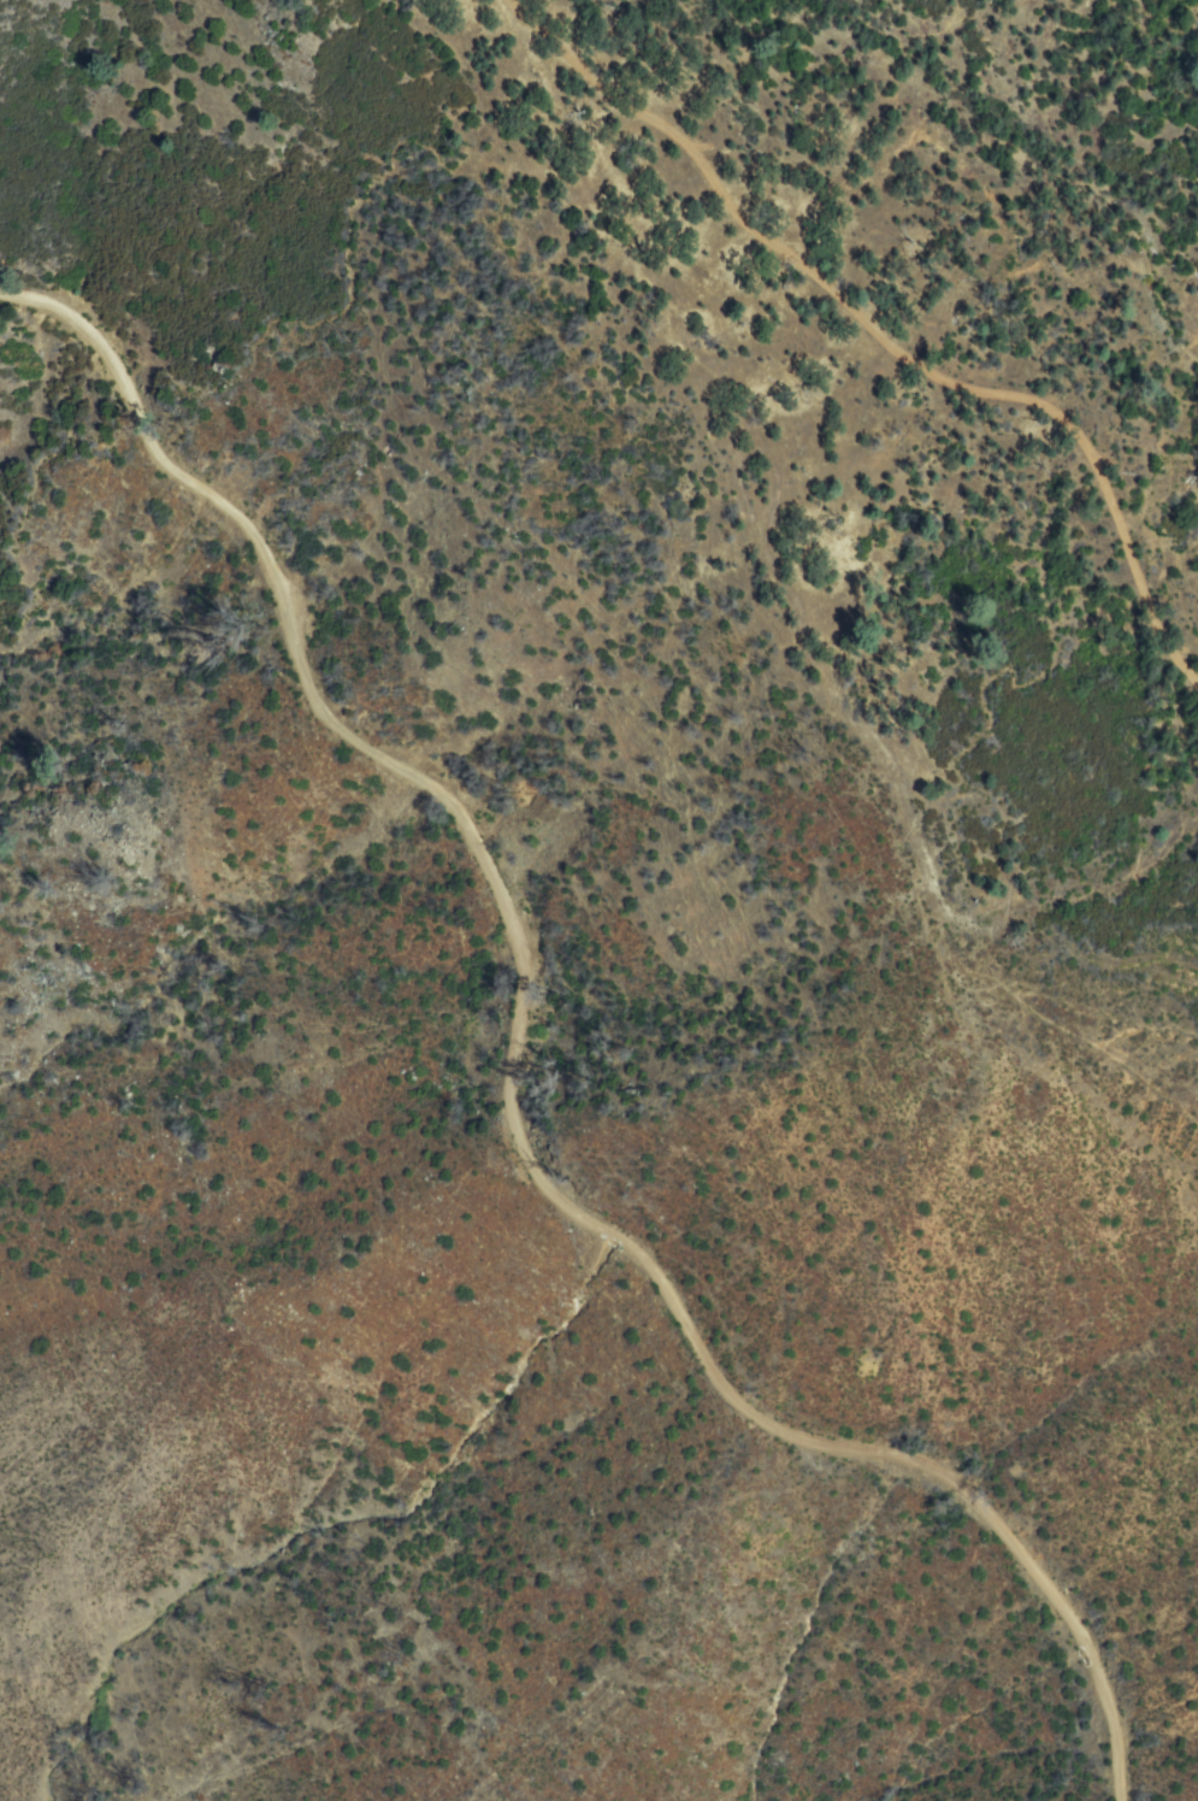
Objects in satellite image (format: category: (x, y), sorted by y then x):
road: (886, 331)
road: (513, 1077)

